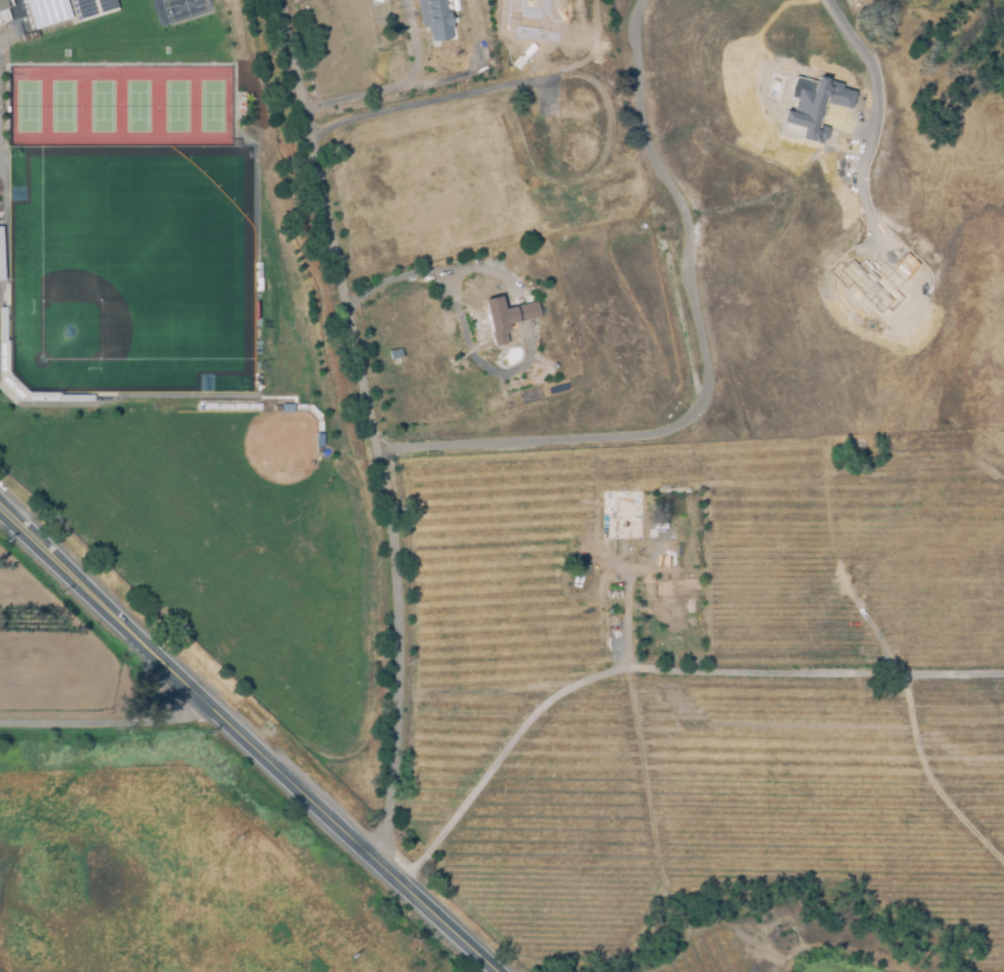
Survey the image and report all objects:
building: (191, 7)
building: (4, 10)
building: (47, 11)
building: (434, 18)
road: (414, 43)
road: (400, 86)
road: (436, 101)
park: (27, 106)
park: (62, 106)
park: (102, 106)
park: (137, 106)
park: (176, 106)
park: (211, 106)
building: (811, 107)
road: (870, 130)
building: (0, 257)
park: (141, 258)
road: (524, 306)
building: (506, 317)
building: (395, 353)
road: (704, 362)
building: (392, 425)
road: (371, 428)
road: (629, 619)
road: (655, 669)
road: (989, 697)
road: (112, 720)
road: (246, 741)

